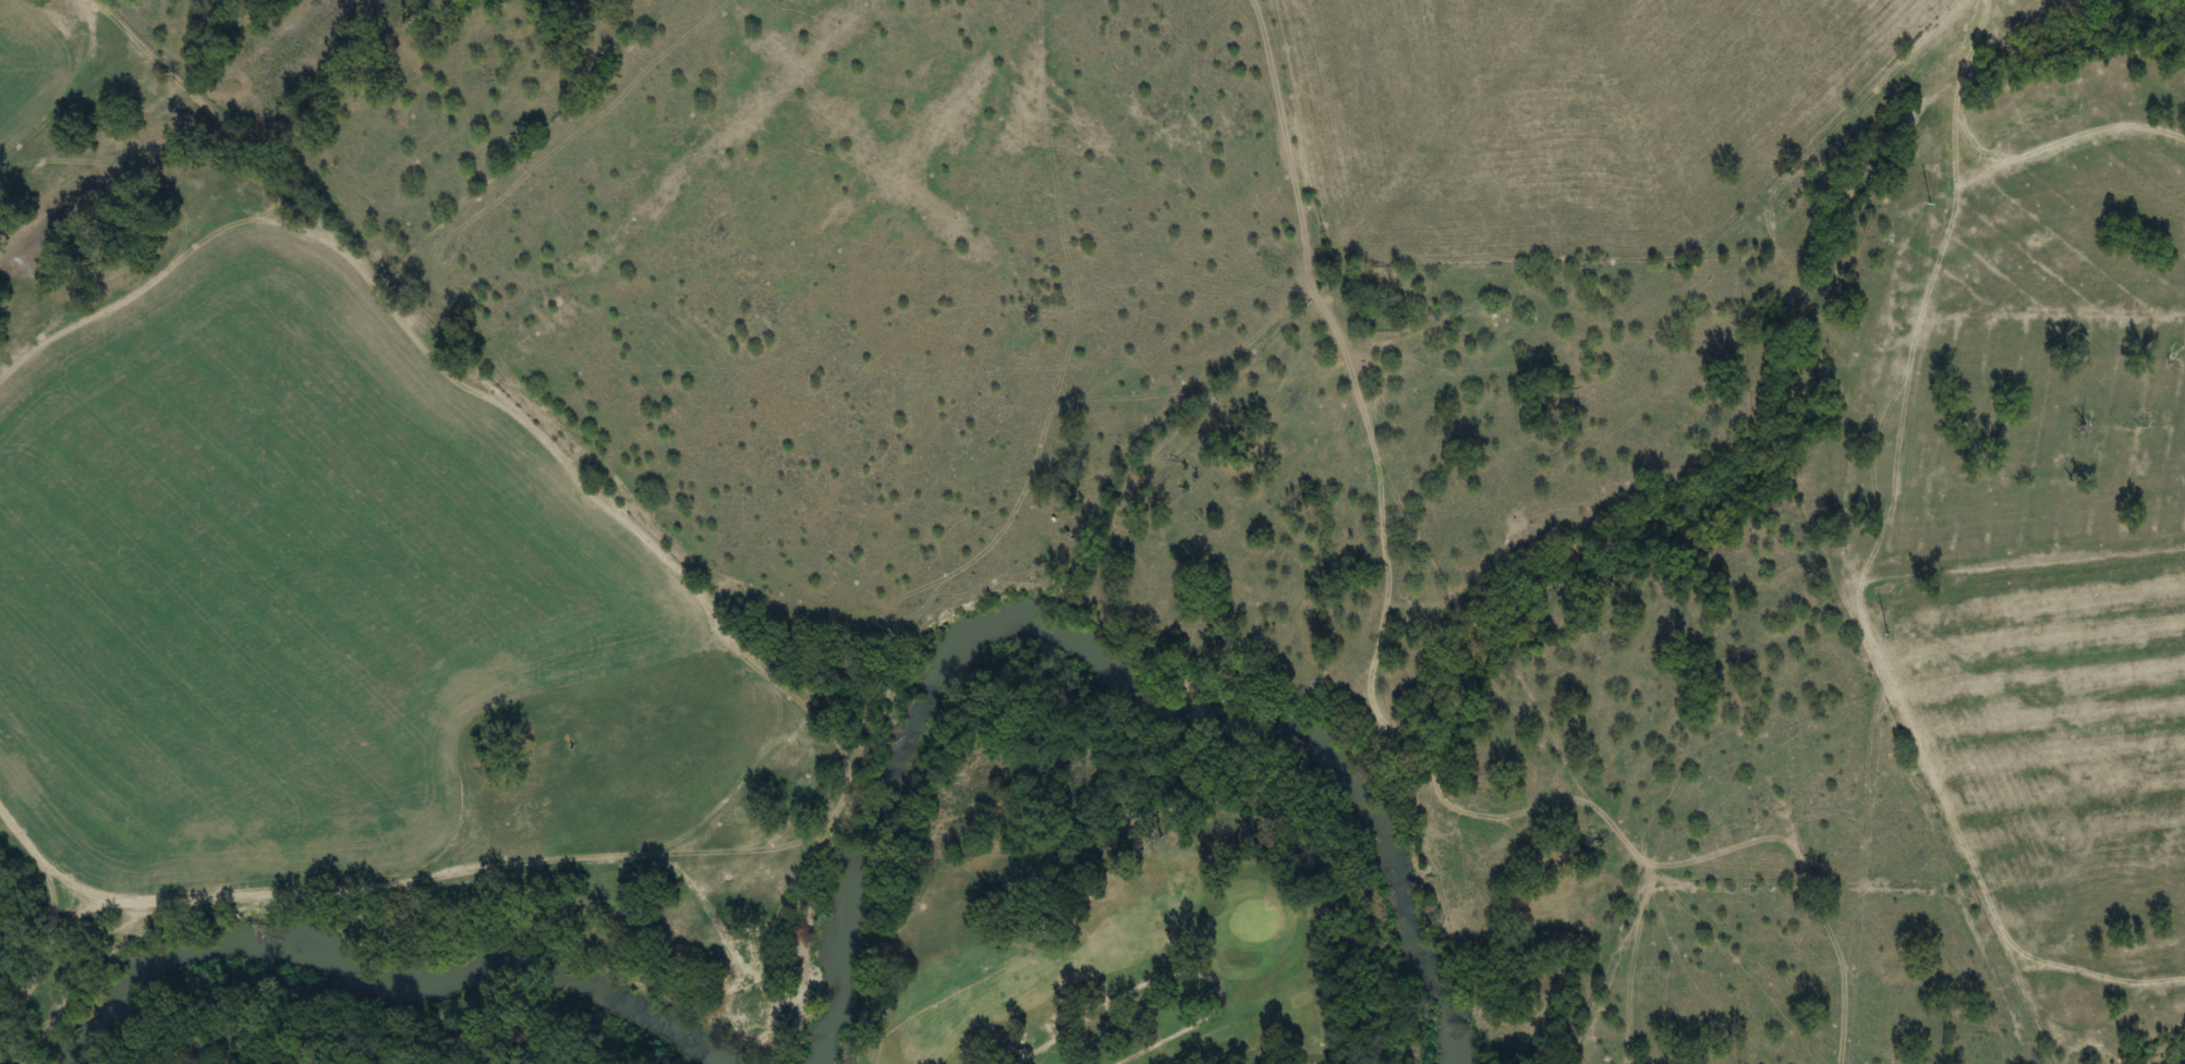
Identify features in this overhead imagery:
river: (1090, 669)
park: (1125, 910)
river: (389, 971)
park: (433, 1048)

